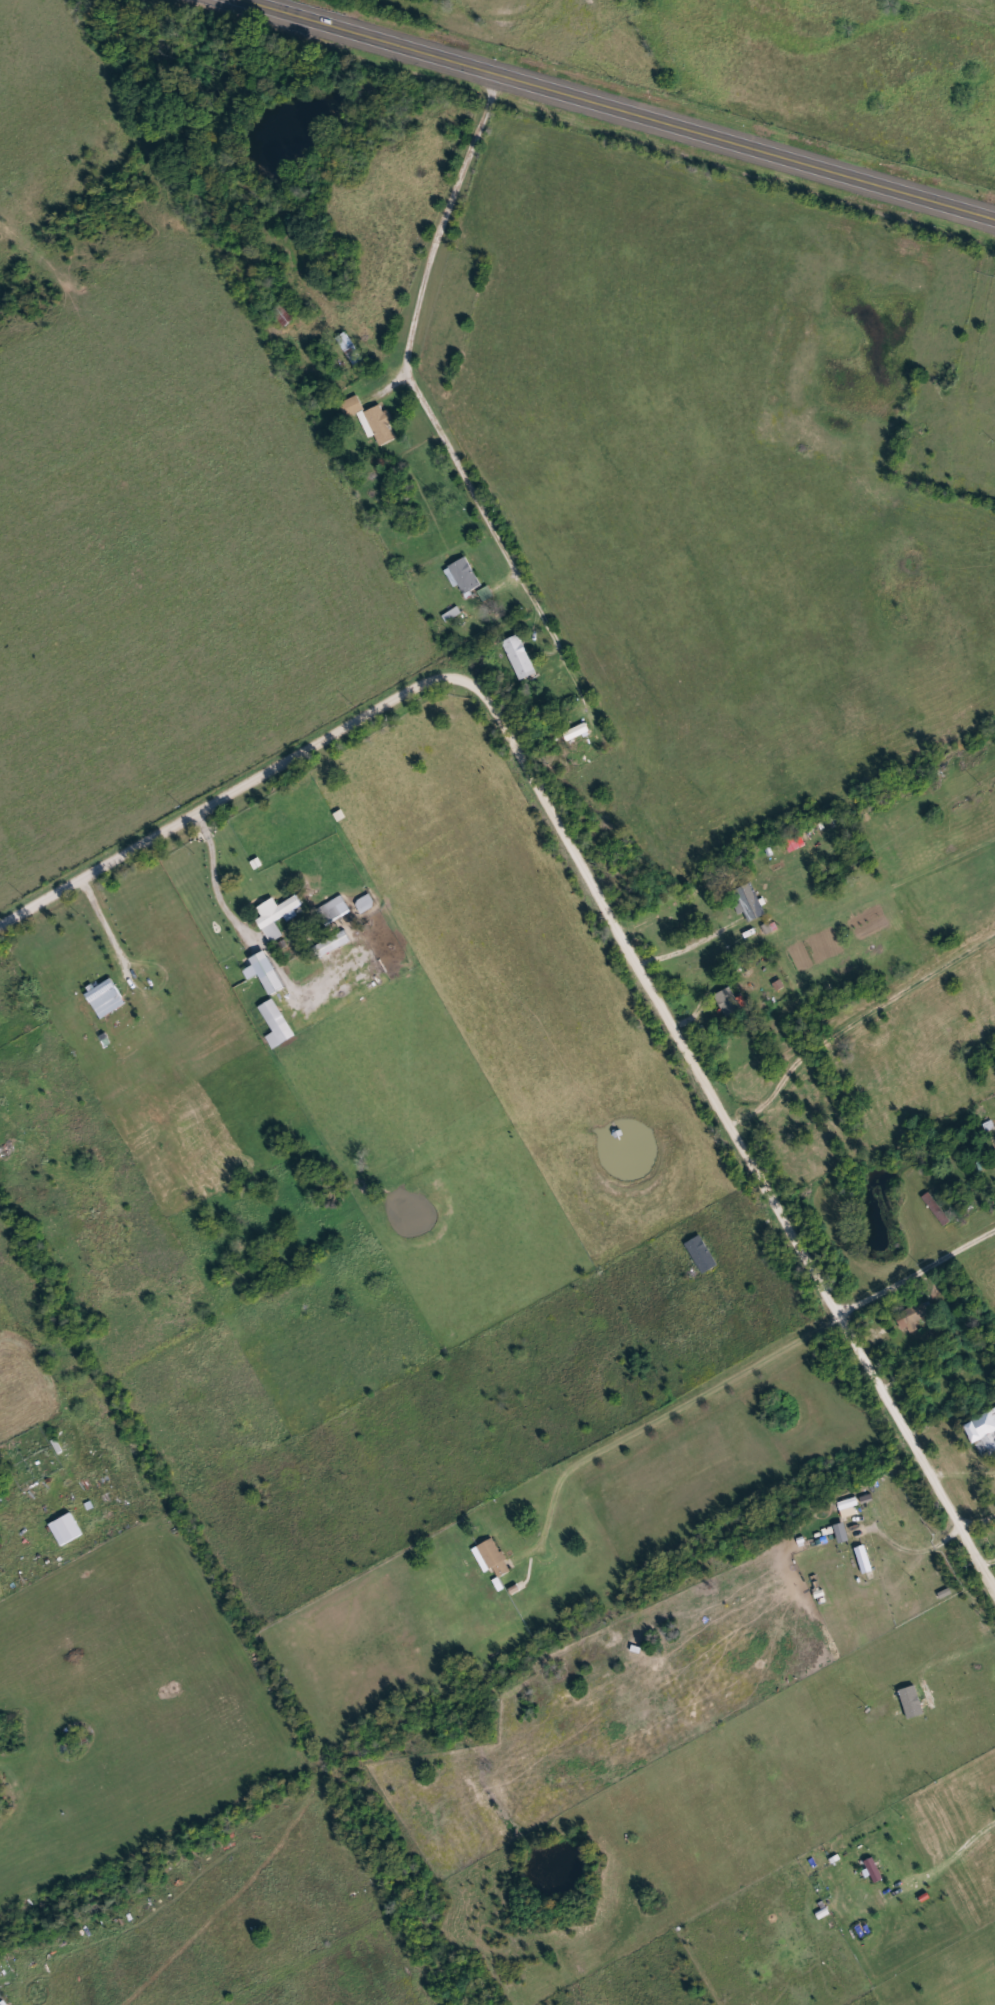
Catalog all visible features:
road: (554, 33)
road: (632, 105)
building: (284, 315)
building: (350, 348)
building: (352, 406)
building: (379, 424)
building: (465, 576)
building: (520, 657)
building: (581, 732)
road: (601, 897)
building: (752, 902)
building: (370, 904)
building: (336, 913)
building: (900, 914)
building: (278, 916)
building: (337, 944)
building: (266, 973)
building: (107, 999)
building: (730, 1002)
building: (273, 1015)
building: (937, 1209)
building: (951, 1230)
building: (706, 1255)
building: (914, 1317)
road: (657, 1414)
building: (983, 1431)
building: (848, 1508)
road: (978, 1517)
building: (67, 1529)
building: (841, 1533)
building: (0, 1543)
building: (491, 1558)
building: (863, 1559)
building: (911, 1702)
building: (873, 1870)

